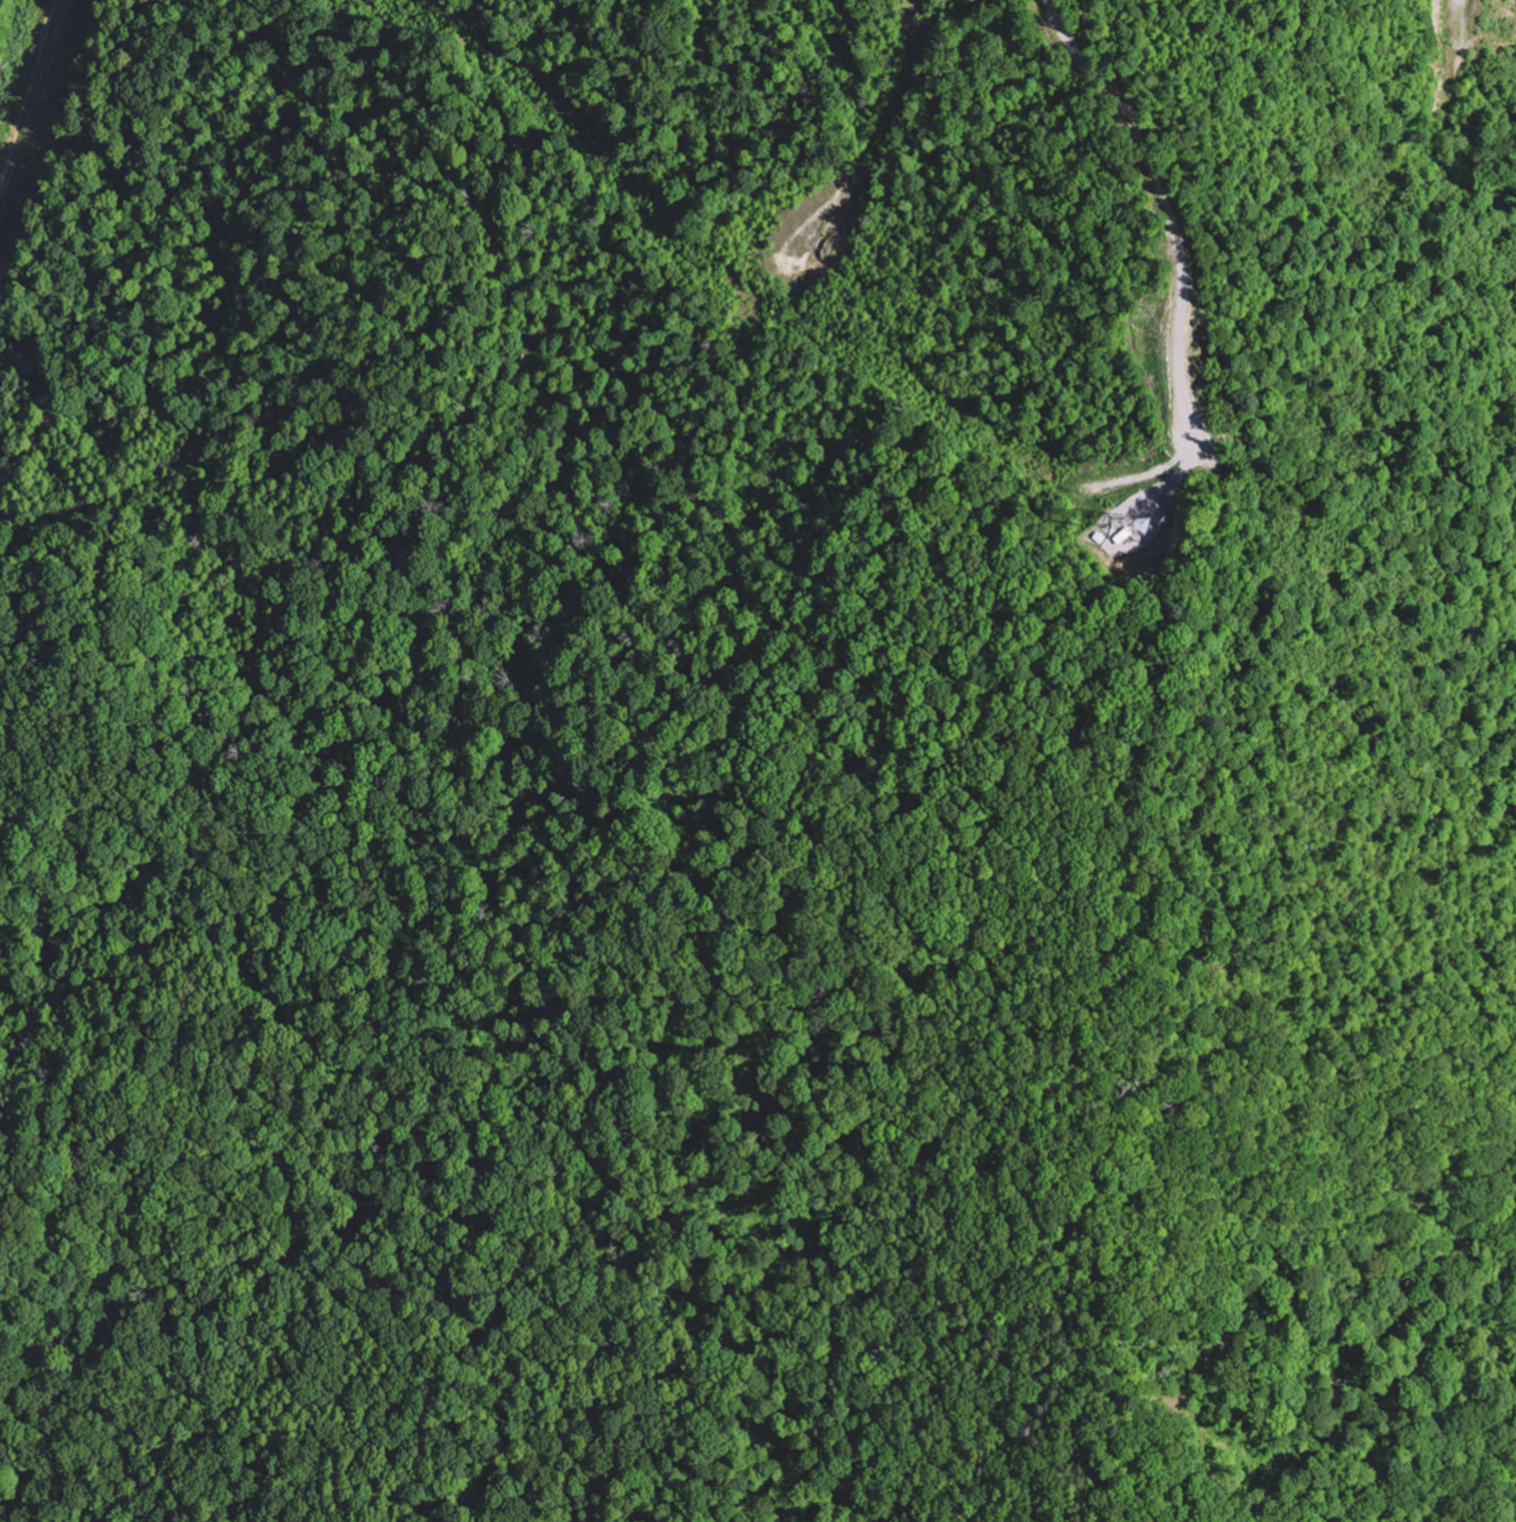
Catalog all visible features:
road: (1457, 25)
road: (870, 141)
road: (1181, 260)

